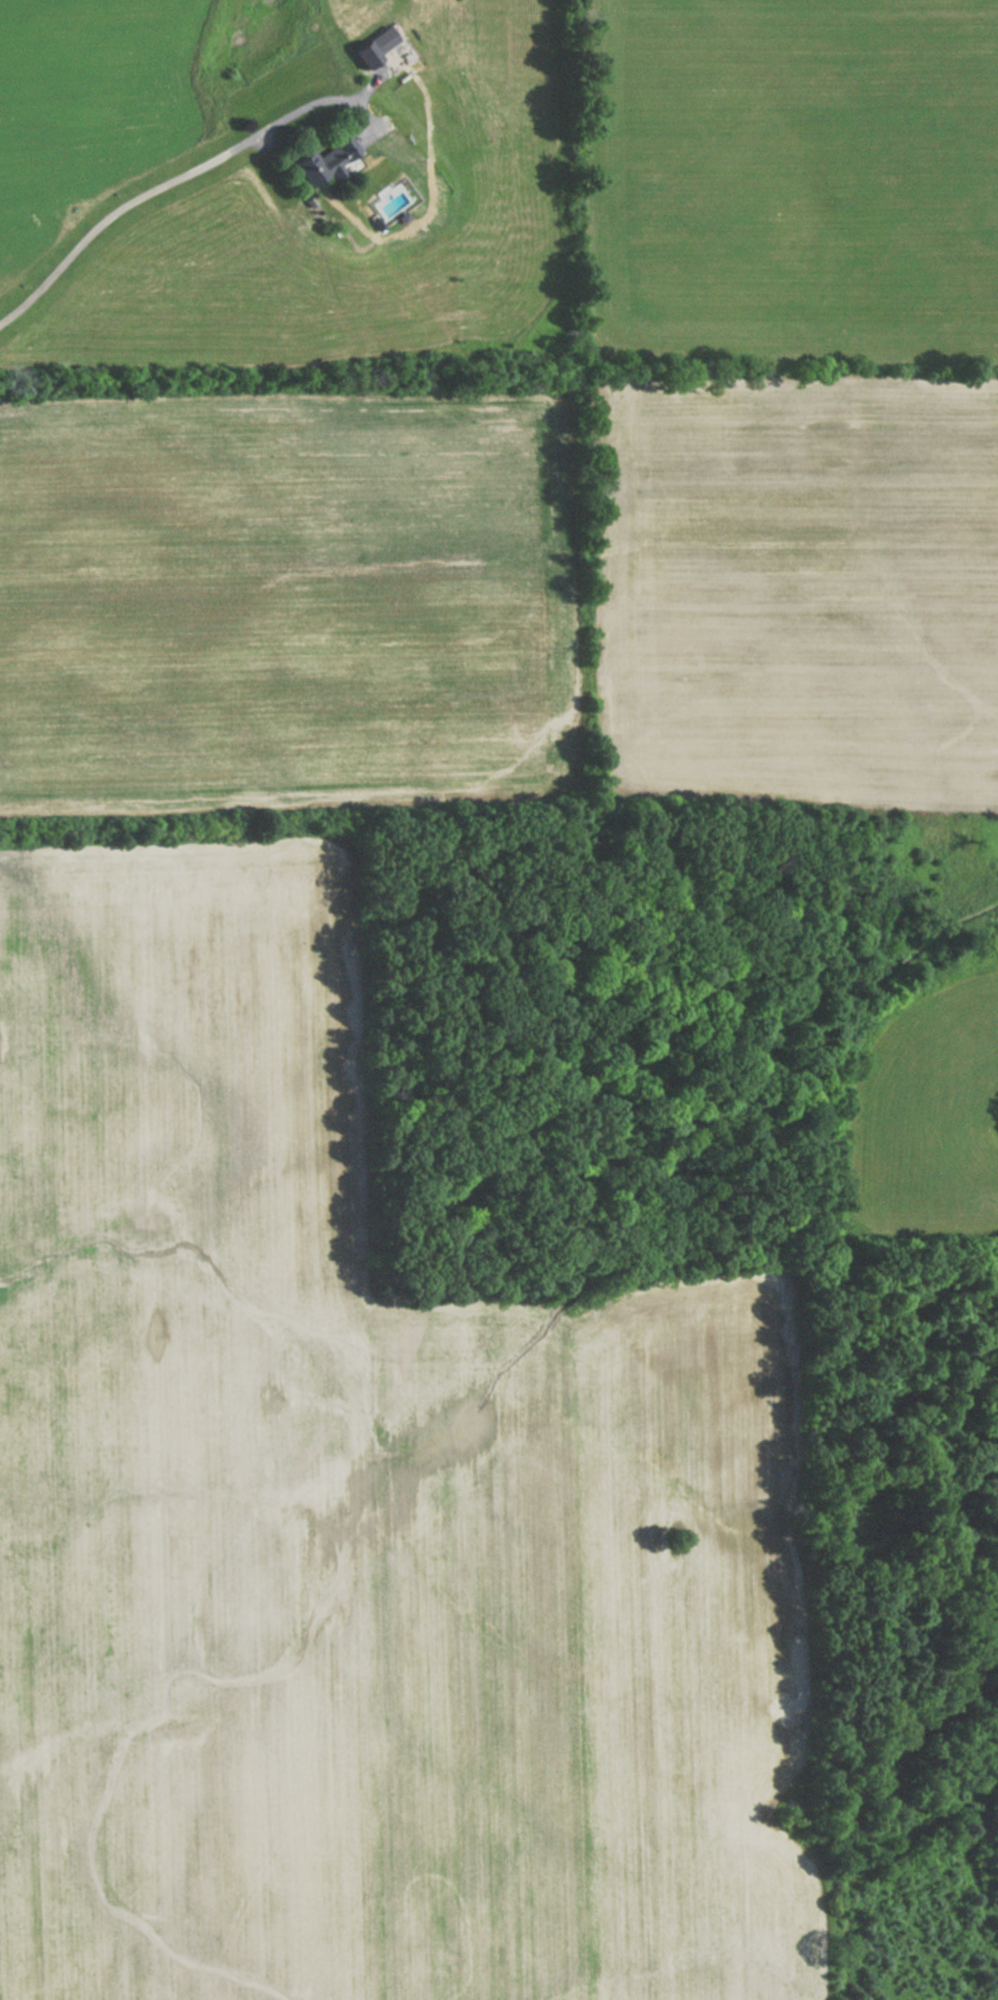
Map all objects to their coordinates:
building: (378, 47)
building: (328, 161)
road: (165, 183)

